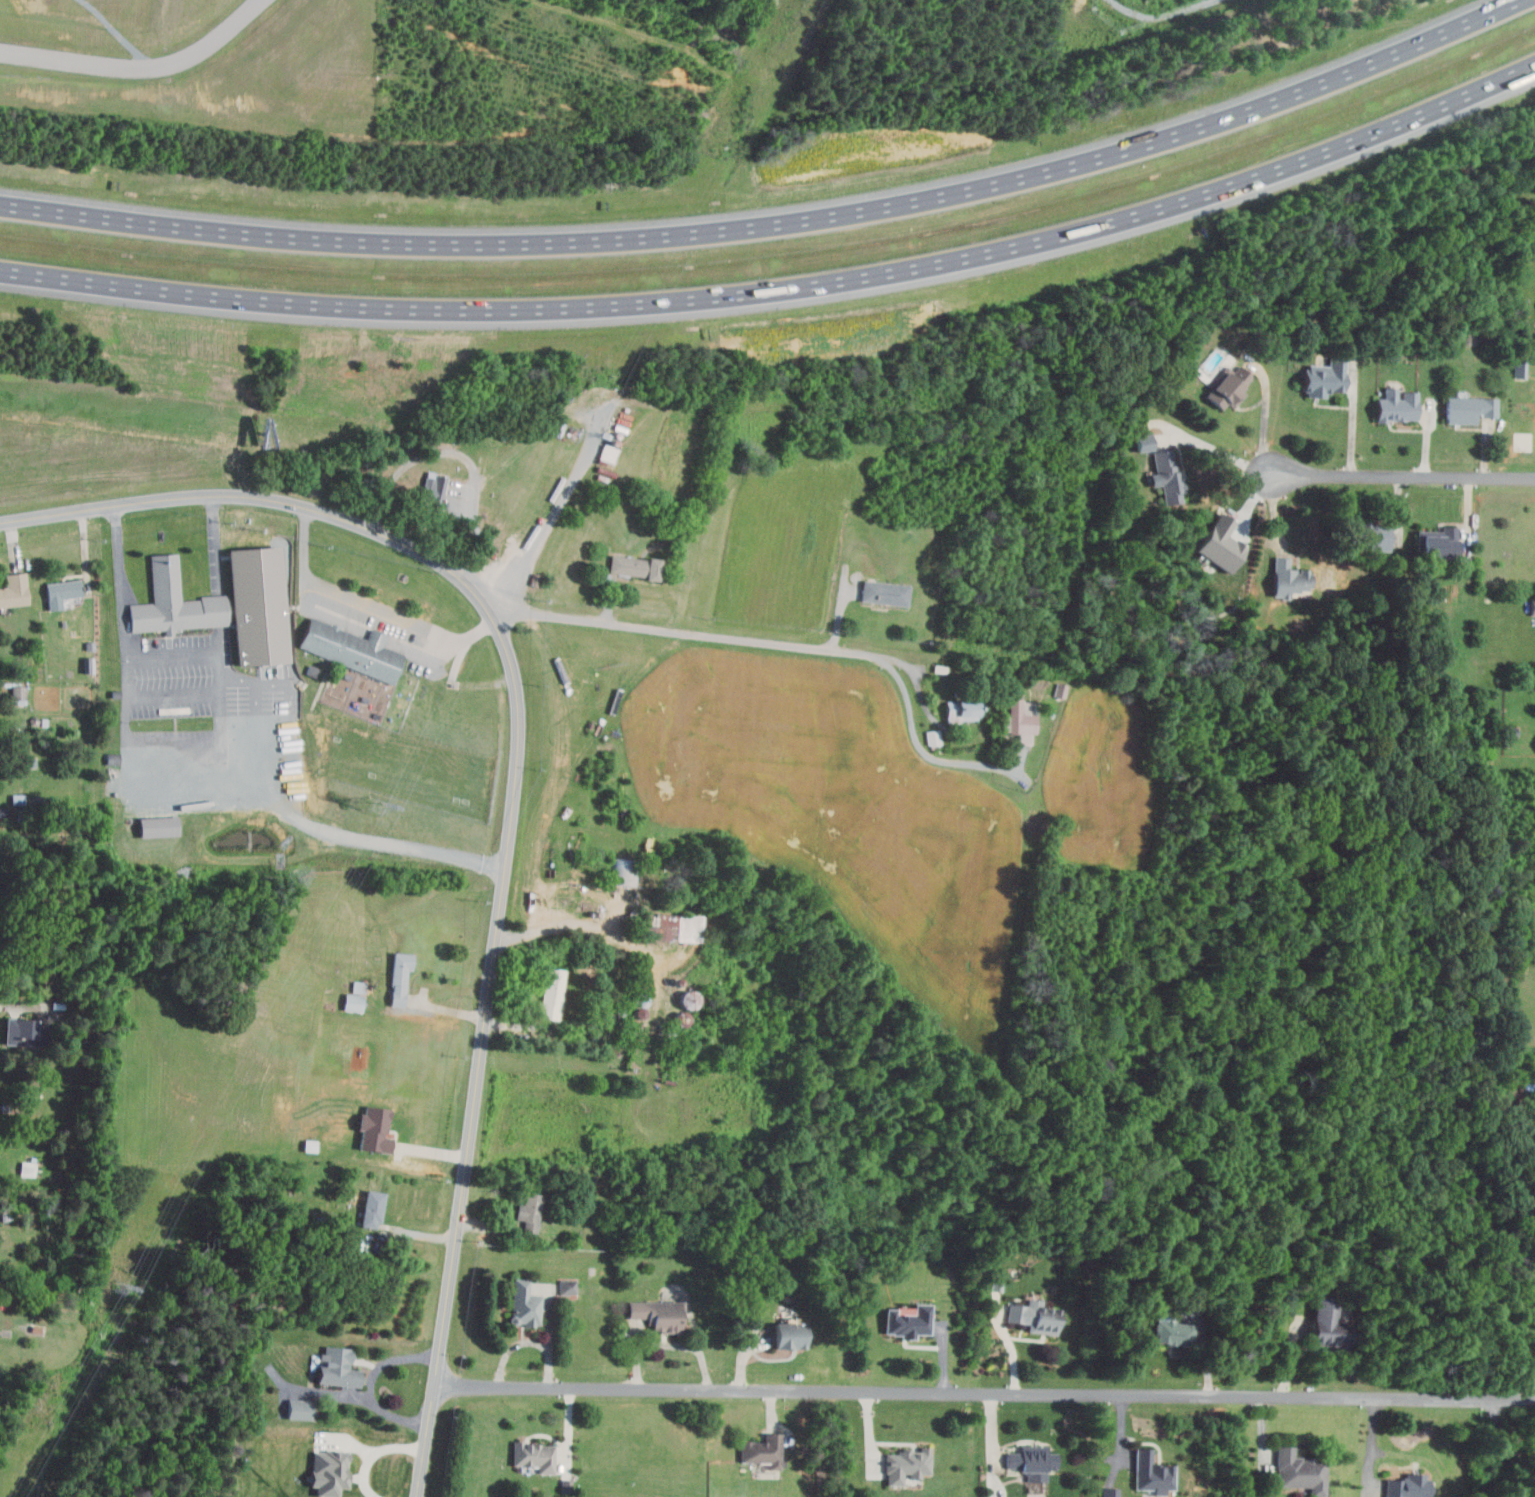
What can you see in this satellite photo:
road: (1162, 15)
road: (137, 67)
road: (777, 227)
road: (783, 289)
building: (1520, 367)
building: (1324, 377)
building: (1233, 386)
building: (1399, 406)
building: (1469, 410)
road: (1268, 415)
road: (1352, 429)
building: (1143, 441)
road: (1220, 450)
road: (463, 456)
building: (1169, 476)
road: (1403, 479)
building: (433, 488)
road: (544, 532)
building: (1369, 534)
road: (217, 540)
building: (1216, 545)
building: (1444, 545)
building: (632, 566)
building: (1291, 578)
building: (15, 590)
building: (63, 591)
building: (884, 592)
building: (173, 601)
building: (257, 604)
road: (368, 606)
building: (1533, 606)
road: (689, 632)
building: (353, 652)
road: (272, 682)
road: (175, 693)
building: (18, 694)
road: (257, 696)
building: (960, 711)
road: (223, 712)
road: (258, 713)
building: (1021, 719)
parking lot: (172, 722)
building: (933, 736)
road: (923, 749)
road: (513, 792)
road: (189, 797)
building: (157, 826)
road: (598, 924)
building: (672, 926)
building: (399, 975)
building: (552, 995)
building: (352, 1001)
road: (15, 1005)
building: (23, 1033)
building: (376, 1129)
building: (309, 1145)
building: (26, 1168)
building: (376, 1208)
building: (532, 1218)
building: (567, 1286)
building: (525, 1302)
building: (657, 1317)
building: (1036, 1318)
building: (908, 1322)
building: (1328, 1324)
building: (789, 1334)
building: (1172, 1334)
building: (339, 1366)
road: (370, 1382)
road: (985, 1392)
building: (297, 1408)
road: (1373, 1444)
road: (1495, 1448)
building: (763, 1449)
road: (374, 1454)
building: (531, 1456)
building: (1033, 1462)
building: (904, 1464)
building: (1297, 1470)
building: (328, 1472)
building: (1151, 1472)
building: (1405, 1485)
building: (1110, 1492)

